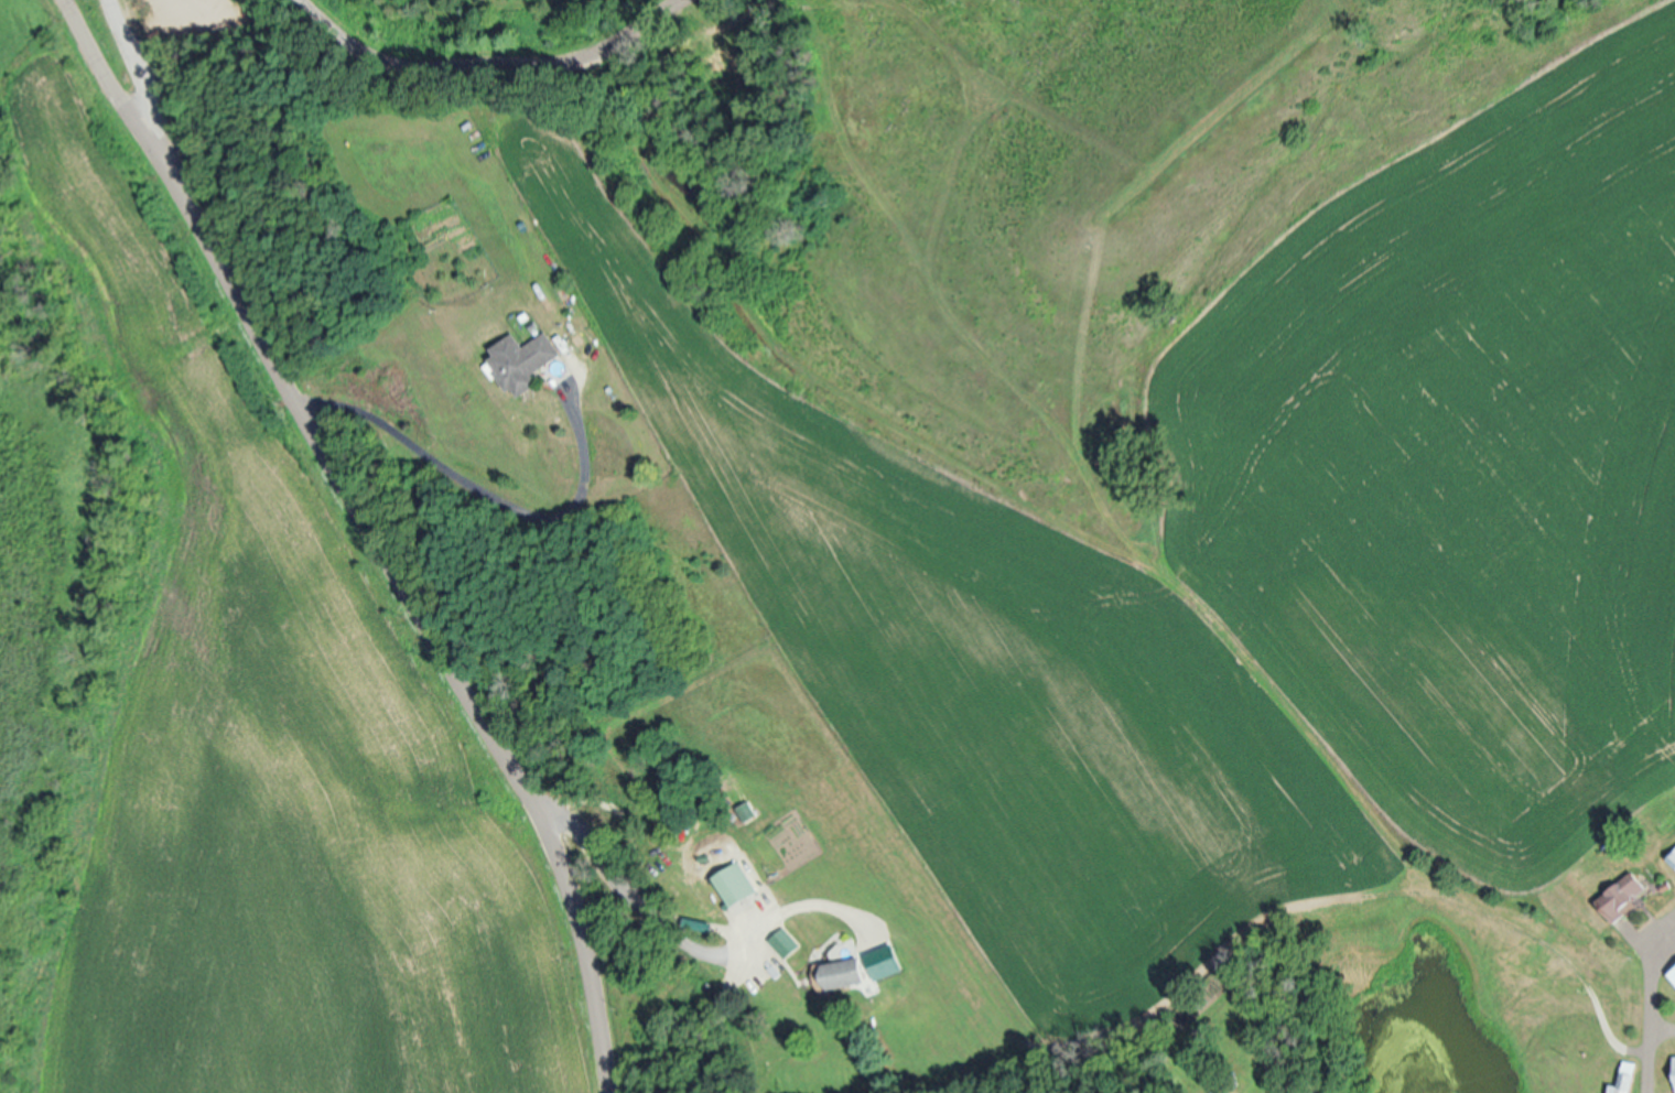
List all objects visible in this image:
road: (485, 59)
road: (138, 64)
building: (522, 358)
road: (493, 501)
road: (363, 529)
building: (1672, 857)
building: (734, 883)
building: (1624, 895)
building: (784, 941)
road: (687, 948)
building: (842, 971)
building: (1673, 972)
road: (1625, 989)

